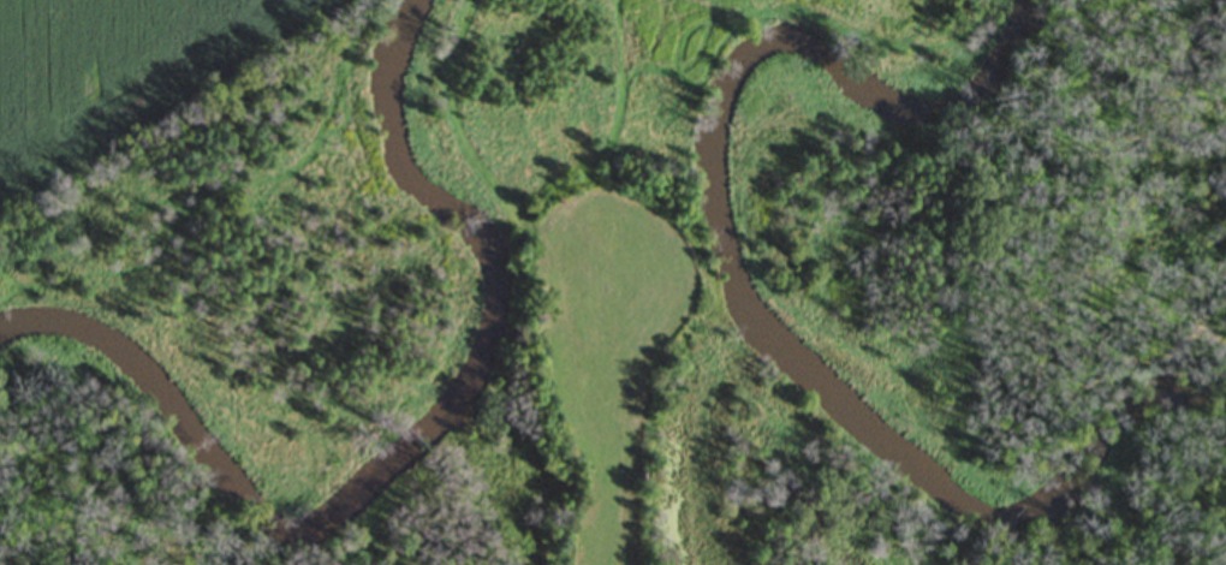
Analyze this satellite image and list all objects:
river: (738, 282)
river: (412, 454)

